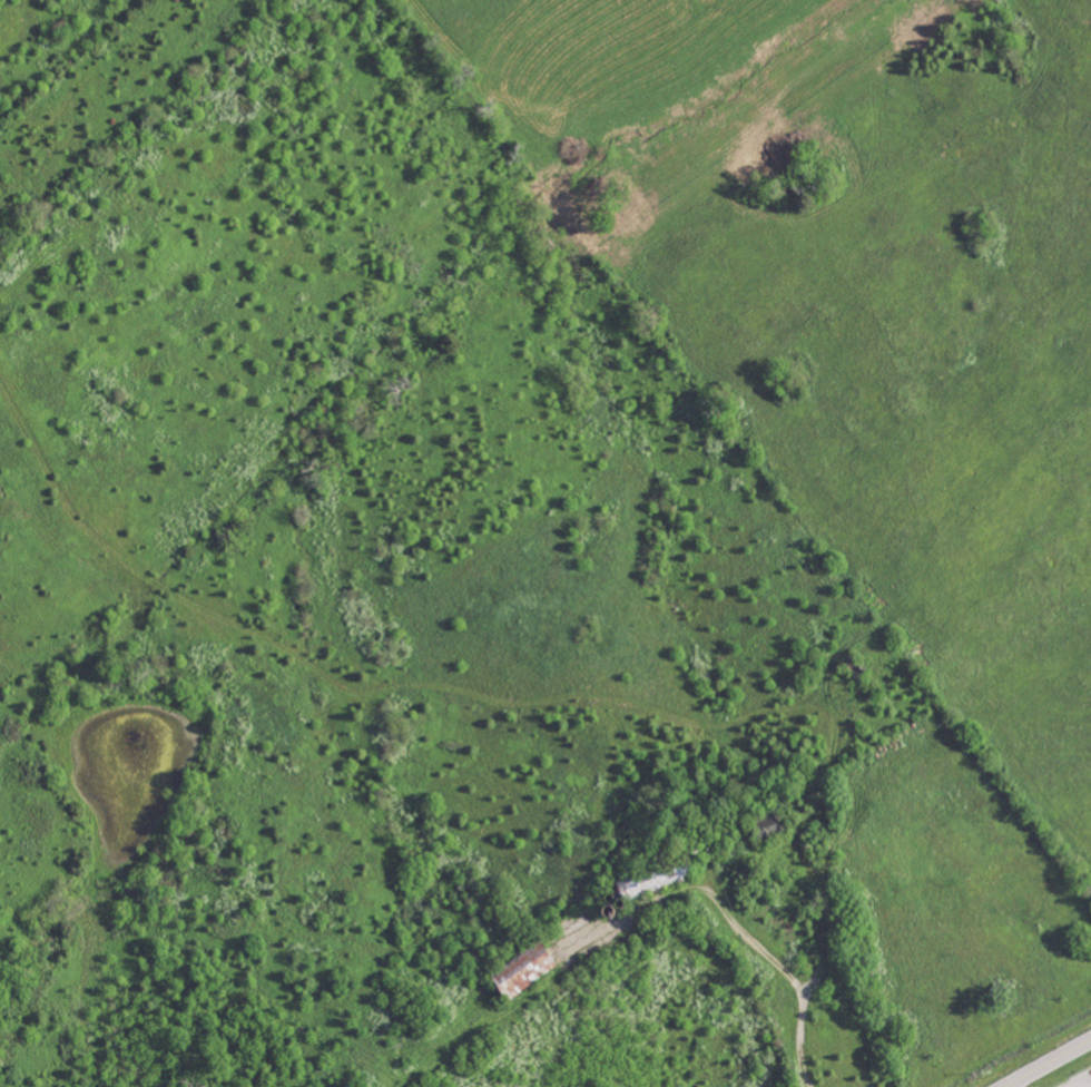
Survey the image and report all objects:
building: (528, 971)
road: (792, 977)
road: (1046, 1062)

